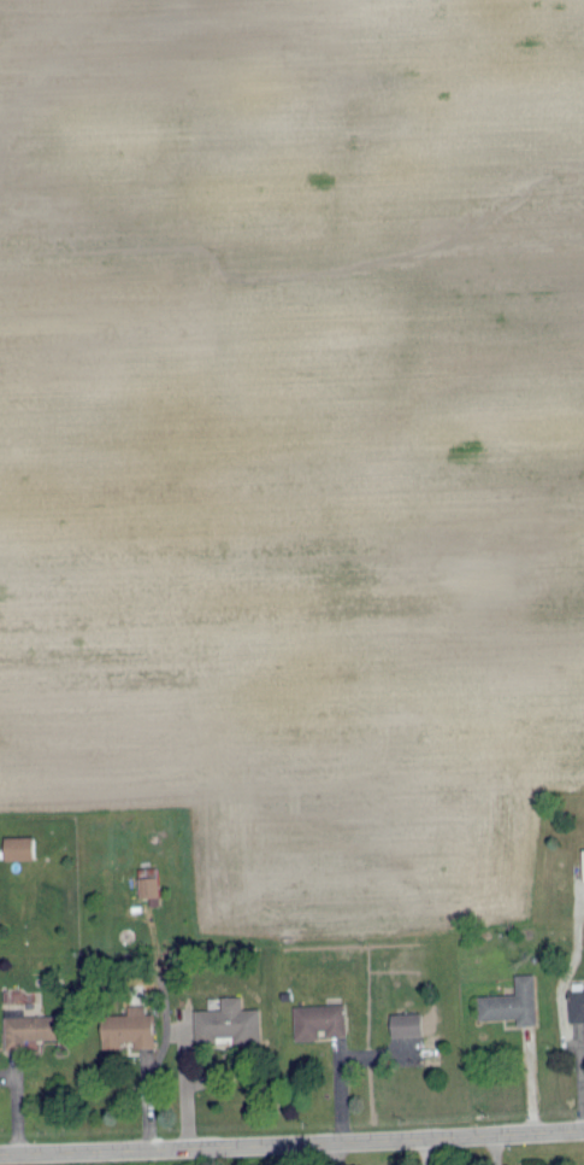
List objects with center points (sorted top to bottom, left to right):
building: (19, 849)
building: (583, 854)
building: (149, 890)
building: (509, 1001)
building: (576, 1001)
building: (318, 1019)
building: (228, 1020)
building: (26, 1025)
building: (407, 1025)
building: (126, 1026)
road: (578, 1066)
road: (291, 1142)
road: (494, 1148)
road: (425, 1151)
road: (337, 1153)

